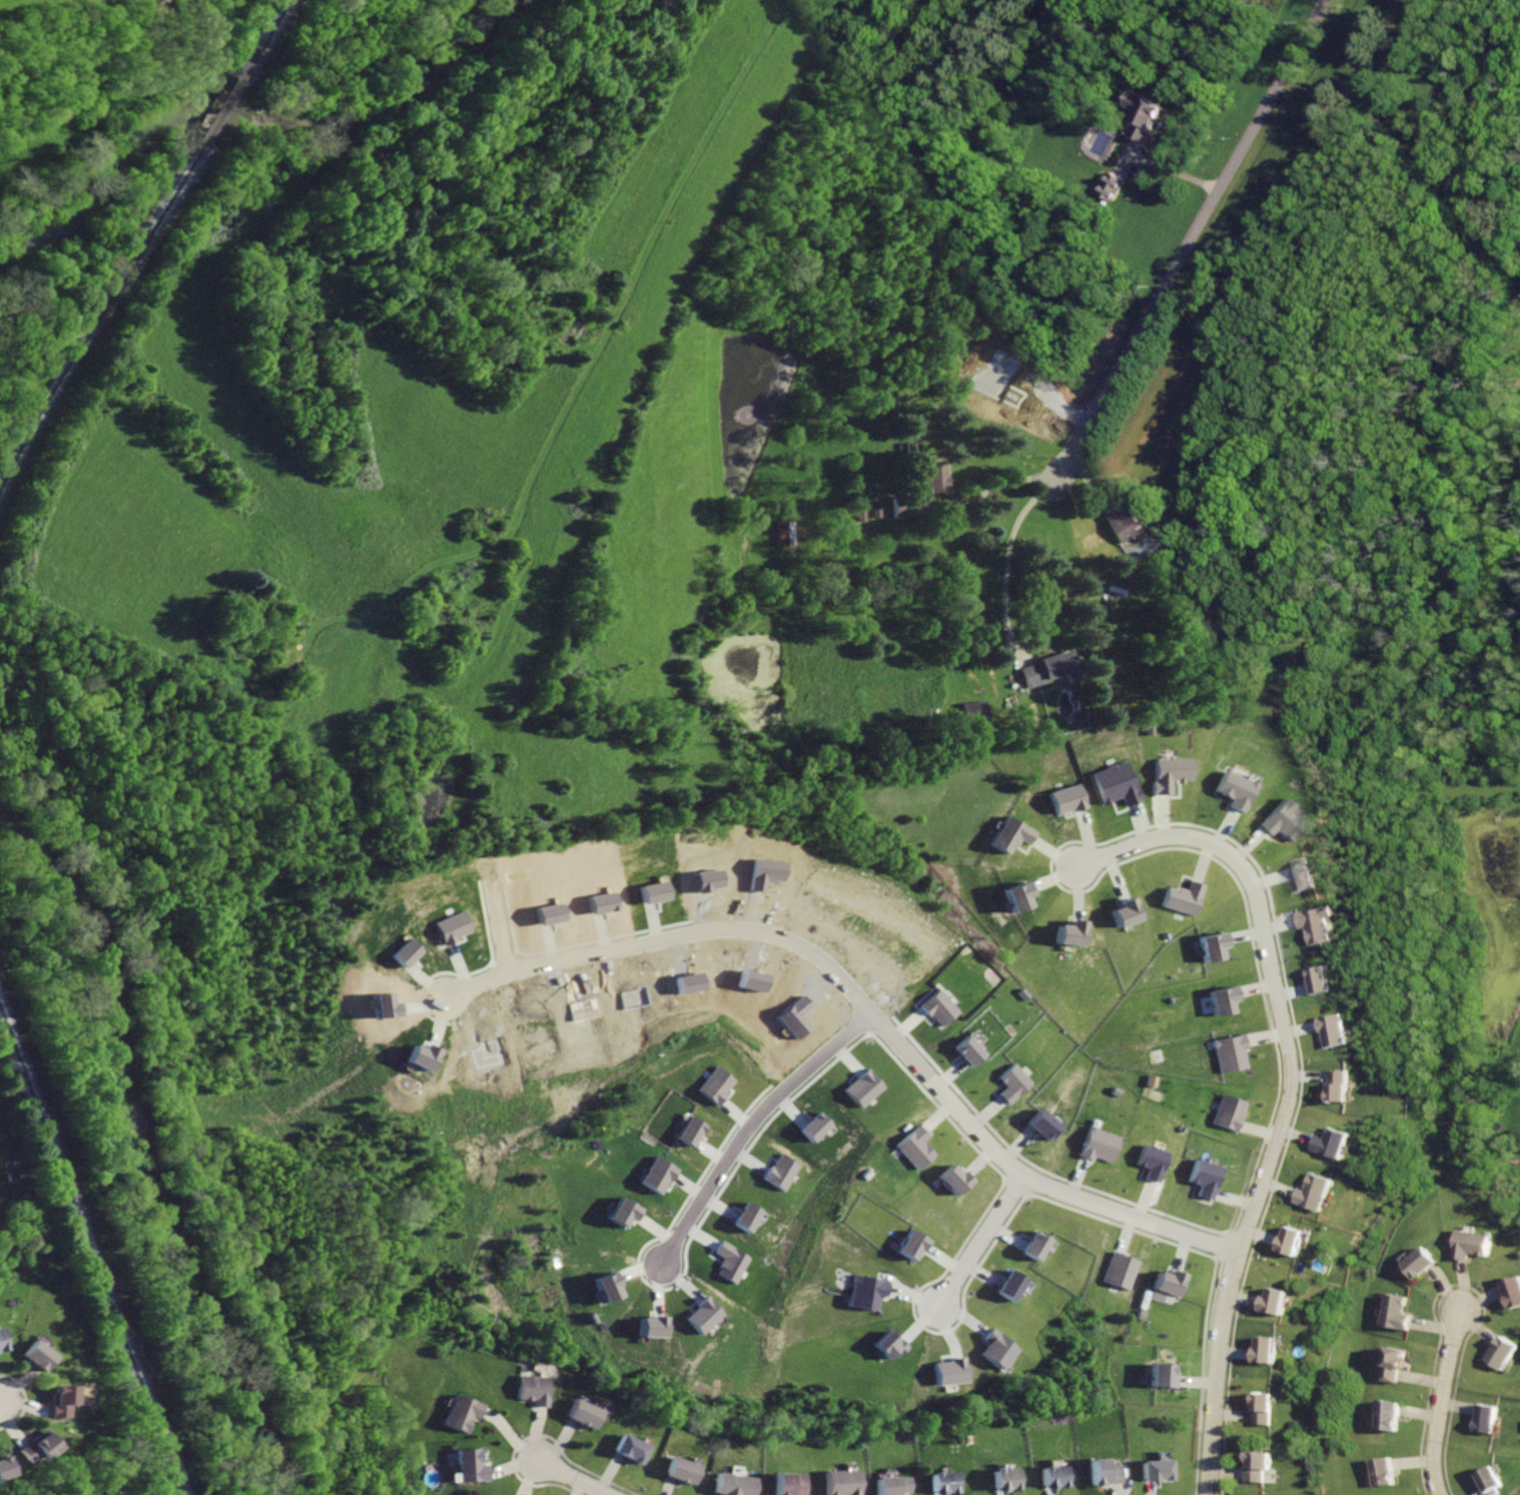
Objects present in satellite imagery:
crop: (28, 7)
railway: (263, 42)
building: (1148, 114)
railway: (221, 115)
building: (1114, 186)
road: (1191, 241)
railway: (98, 319)
road: (584, 370)
building: (935, 475)
road: (976, 493)
building: (901, 507)
building: (860, 511)
building: (1121, 522)
building: (786, 532)
road: (1006, 561)
building: (1194, 623)
building: (1049, 668)
building: (974, 711)
building: (1166, 774)
building: (1115, 784)
building: (1231, 788)
building: (1067, 798)
building: (1275, 820)
building: (1011, 834)
building: (1303, 875)
building: (650, 891)
building: (1016, 896)
building: (1182, 896)
building: (1126, 913)
building: (1321, 922)
road: (502, 925)
building: (1070, 932)
building: (1211, 946)
building: (1323, 979)
building: (1222, 1000)
building: (935, 1006)
road: (865, 1008)
building: (1336, 1032)
building: (967, 1050)
building: (1232, 1052)
building: (1012, 1082)
building: (716, 1085)
building: (1342, 1086)
building: (864, 1088)
building: (1116, 1091)
road: (1288, 1091)
building: (1231, 1105)
road: (751, 1124)
building: (1043, 1124)
building: (818, 1126)
building: (692, 1130)
building: (1330, 1134)
building: (1097, 1144)
building: (916, 1148)
building: (1152, 1161)
building: (953, 1170)
building: (1206, 1170)
building: (785, 1172)
building: (659, 1174)
building: (1315, 1186)
building: (626, 1211)
building: (752, 1218)
building: (1289, 1234)
building: (909, 1236)
road: (986, 1238)
building: (1475, 1244)
building: (1039, 1245)
railway: (89, 1253)
building: (736, 1262)
building: (1428, 1262)
building: (1122, 1263)
building: (1169, 1276)
building: (1015, 1277)
building: (867, 1282)
building: (609, 1287)
building: (1515, 1290)
building: (1274, 1294)
building: (707, 1313)
building: (1401, 1313)
building: (655, 1326)
building: (889, 1336)
building: (1002, 1341)
building: (1268, 1342)
building: (0, 1349)
building: (1507, 1354)
building: (34, 1357)
building: (1400, 1365)
building: (1161, 1369)
building: (952, 1370)
building: (536, 1389)
building: (1265, 1399)
building: (59, 1400)
road: (1446, 1406)
building: (467, 1413)
building: (587, 1415)
building: (1395, 1415)
building: (1494, 1419)
building: (36, 1448)
building: (632, 1449)
building: (472, 1466)
building: (1262, 1466)
building: (4, 1468)
building: (682, 1470)
building: (1157, 1470)
building: (1389, 1472)
building: (1101, 1473)
building: (1051, 1477)
building: (1003, 1478)
road: (572, 1480)
building: (1498, 1481)
building: (840, 1483)
building: (944, 1483)
building: (736, 1484)
building: (787, 1484)
building: (890, 1485)

